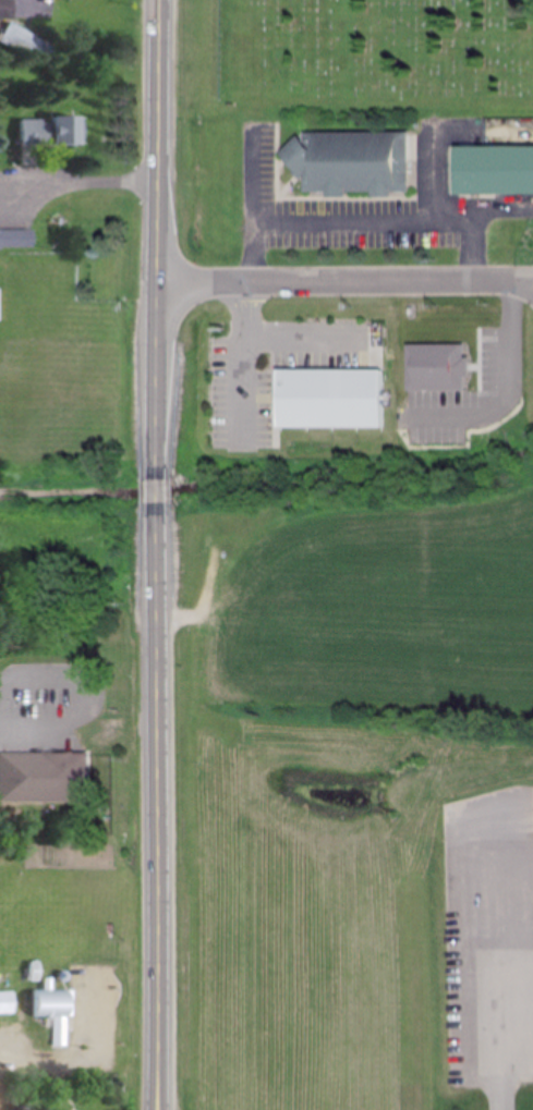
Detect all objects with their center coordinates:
building: (16, 37)
park: (377, 56)
building: (45, 132)
building: (346, 163)
building: (490, 170)
road: (78, 183)
building: (15, 239)
road: (158, 240)
road: (346, 281)
building: (334, 401)
crop: (66, 423)
road: (156, 491)
road: (85, 687)
building: (25, 751)
road: (156, 796)
road: (499, 977)
building: (2, 1003)
building: (47, 1010)
road: (156, 1100)
road: (157, 1100)

